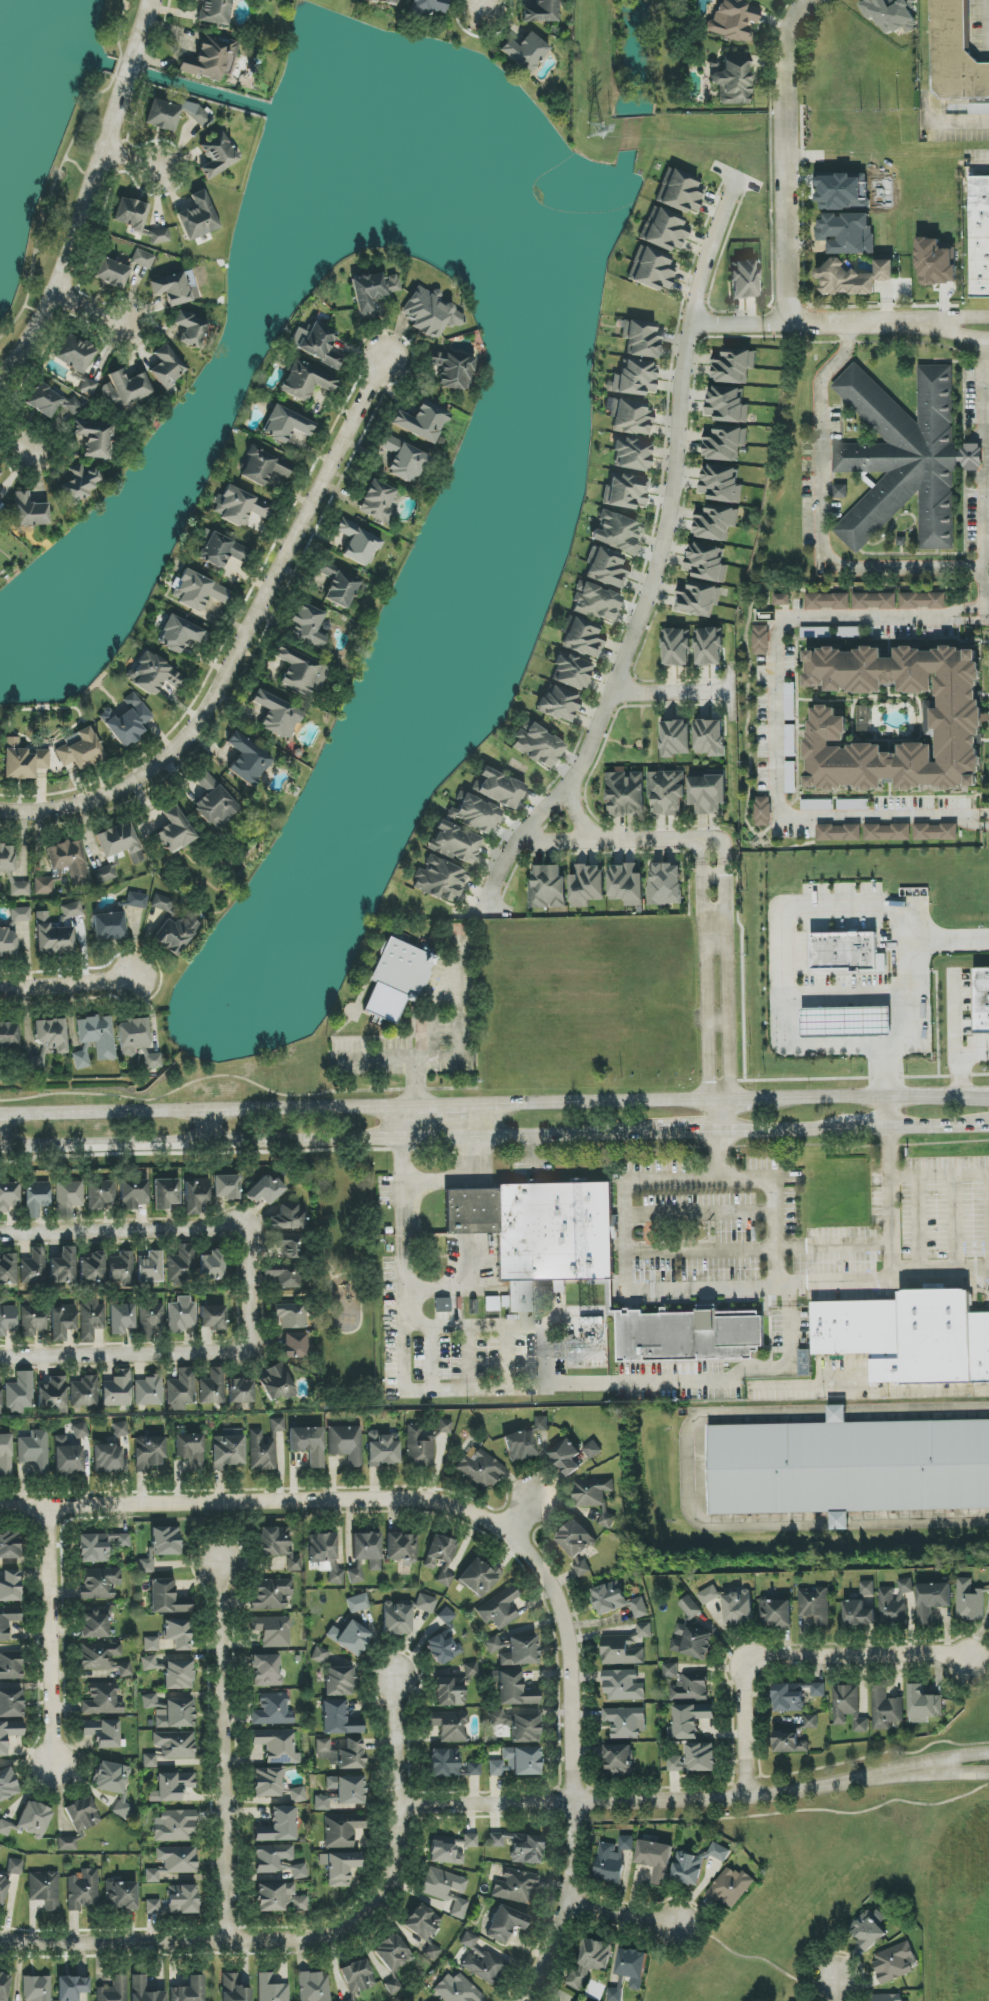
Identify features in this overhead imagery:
road: (988, 1)
building: (387, 2)
road: (484, 5)
building: (428, 7)
building: (214, 11)
building: (540, 12)
building: (890, 14)
building: (734, 20)
road: (141, 28)
building: (525, 52)
building: (210, 58)
building: (956, 58)
road: (128, 71)
building: (733, 79)
building: (173, 114)
road: (960, 120)
power tower: (595, 134)
building: (216, 155)
road: (789, 159)
road: (131, 161)
road: (733, 175)
building: (679, 191)
building: (842, 191)
building: (130, 213)
building: (197, 217)
building: (664, 230)
building: (847, 233)
building: (159, 236)
building: (979, 236)
road: (78, 240)
building: (142, 259)
building: (935, 262)
building: (652, 270)
building: (111, 273)
building: (853, 277)
building: (188, 279)
building: (744, 279)
building: (173, 289)
building: (372, 292)
road: (90, 306)
building: (428, 313)
road: (839, 325)
building: (190, 329)
building: (642, 339)
building: (319, 344)
building: (75, 353)
building: (733, 366)
building: (166, 367)
building: (453, 370)
building: (635, 378)
building: (305, 381)
building: (88, 387)
building: (125, 390)
building: (43, 400)
building: (727, 405)
building: (629, 417)
building: (422, 422)
building: (285, 424)
building: (94, 438)
road: (17, 441)
building: (724, 443)
building: (632, 455)
building: (904, 458)
building: (404, 459)
building: (263, 467)
road: (986, 472)
building: (79, 484)
building: (721, 484)
building: (840, 491)
building: (625, 492)
building: (0, 501)
building: (378, 503)
building: (239, 506)
building: (30, 511)
road: (821, 520)
building: (716, 522)
building: (616, 532)
building: (358, 543)
building: (224, 553)
road: (656, 562)
building: (707, 562)
building: (340, 585)
building: (198, 591)
building: (698, 598)
building: (782, 600)
building: (827, 601)
building: (874, 601)
building: (923, 601)
building: (596, 602)
road: (976, 614)
building: (307, 625)
building: (816, 632)
building: (849, 632)
building: (180, 634)
building: (583, 638)
building: (761, 640)
road: (243, 644)
building: (676, 647)
building: (708, 647)
building: (299, 671)
building: (572, 672)
building: (153, 674)
road: (671, 692)
road: (729, 693)
building: (790, 701)
building: (559, 703)
building: (277, 715)
building: (126, 721)
road: (775, 725)
building: (957, 727)
building: (709, 737)
building: (674, 738)
building: (790, 740)
building: (539, 746)
building: (79, 751)
building: (23, 760)
building: (247, 760)
building: (791, 777)
building: (500, 789)
building: (666, 792)
building: (626, 794)
building: (707, 794)
building: (213, 801)
building: (817, 805)
building: (853, 805)
building: (763, 811)
building: (474, 814)
road: (576, 817)
road: (984, 818)
building: (174, 831)
building: (887, 832)
building: (936, 832)
building: (839, 833)
building: (119, 842)
road: (614, 842)
building: (455, 843)
building: (6, 858)
building: (69, 861)
building: (104, 874)
road: (711, 876)
building: (440, 879)
building: (626, 884)
building: (665, 884)
building: (587, 885)
building: (43, 886)
building: (547, 887)
building: (19, 889)
building: (136, 900)
building: (163, 903)
building: (71, 910)
building: (20, 914)
road: (480, 914)
building: (62, 923)
building: (109, 926)
road: (712, 927)
building: (176, 934)
road: (786, 935)
building: (52, 937)
building: (8, 943)
building: (847, 952)
road: (724, 968)
road: (701, 969)
building: (397, 979)
road: (65, 984)
road: (849, 995)
building: (981, 1001)
road: (908, 1007)
road: (714, 1019)
building: (845, 1023)
building: (8, 1035)
building: (51, 1035)
building: (97, 1036)
building: (132, 1036)
road: (455, 1054)
road: (956, 1055)
road: (377, 1057)
building: (80, 1060)
building: (151, 1060)
building: (33, 1063)
road: (872, 1096)
road: (737, 1099)
road: (591, 1103)
road: (440, 1107)
road: (887, 1112)
road: (208, 1113)
road: (717, 1115)
road: (498, 1121)
road: (416, 1123)
road: (939, 1127)
road: (207, 1128)
road: (860, 1128)
road: (775, 1129)
road: (687, 1131)
road: (19, 1133)
road: (328, 1140)
road: (717, 1153)
road: (395, 1154)
road: (939, 1175)
road: (450, 1176)
building: (264, 1190)
building: (165, 1193)
building: (132, 1194)
building: (100, 1195)
building: (195, 1195)
building: (9, 1197)
building: (35, 1198)
building: (68, 1198)
road: (700, 1215)
building: (287, 1218)
road: (919, 1223)
road: (956, 1223)
road: (100, 1229)
building: (540, 1229)
road: (834, 1246)
road: (891, 1246)
building: (285, 1247)
road: (701, 1251)
building: (181, 1264)
building: (211, 1265)
building: (62, 1266)
building: (33, 1267)
building: (150, 1267)
building: (91, 1268)
building: (121, 1268)
building: (7, 1269)
road: (400, 1275)
building: (284, 1277)
road: (841, 1282)
road: (456, 1286)
road: (684, 1290)
road: (243, 1291)
building: (491, 1304)
building: (442, 1305)
building: (180, 1315)
building: (291, 1315)
building: (212, 1318)
building: (91, 1319)
building: (121, 1319)
building: (149, 1319)
building: (8, 1320)
building: (33, 1320)
building: (61, 1321)
road: (503, 1327)
building: (690, 1337)
building: (909, 1338)
building: (294, 1345)
road: (100, 1351)
building: (805, 1363)
building: (276, 1383)
road: (635, 1385)
building: (212, 1387)
building: (117, 1390)
building: (181, 1390)
road: (908, 1390)
building: (148, 1391)
building: (240, 1391)
building: (84, 1392)
building: (20, 1393)
building: (52, 1395)
building: (0, 1398)
road: (917, 1412)
road: (837, 1413)
building: (276, 1425)
building: (120, 1429)
building: (80, 1431)
building: (308, 1444)
building: (345, 1444)
building: (227, 1449)
building: (382, 1449)
building: (190, 1450)
building: (592, 1450)
building: (34, 1451)
building: (149, 1451)
building: (261, 1451)
building: (5, 1454)
building: (67, 1457)
building: (566, 1457)
building: (107, 1458)
building: (479, 1468)
building: (848, 1468)
road: (688, 1472)
building: (592, 1492)
road: (523, 1515)
road: (918, 1521)
road: (839, 1523)
road: (504, 1526)
building: (164, 1541)
building: (273, 1542)
building: (9, 1544)
building: (577, 1545)
building: (100, 1546)
building: (401, 1548)
building: (367, 1549)
building: (442, 1549)
building: (325, 1554)
building: (294, 1563)
building: (145, 1566)
building: (355, 1573)
building: (475, 1577)
building: (444, 1579)
building: (99, 1583)
building: (10, 1586)
building: (867, 1588)
building: (271, 1594)
building: (166, 1598)
building: (618, 1600)
building: (933, 1602)
building: (970, 1602)
building: (357, 1603)
building: (425, 1603)
building: (731, 1604)
building: (895, 1604)
building: (816, 1605)
building: (499, 1609)
building: (774, 1611)
building: (858, 1612)
building: (446, 1616)
building: (396, 1619)
building: (8, 1620)
building: (95, 1622)
building: (272, 1631)
building: (177, 1633)
building: (693, 1633)
road: (53, 1635)
building: (349, 1637)
building: (150, 1644)
building: (492, 1644)
building: (626, 1647)
building: (442, 1648)
building: (520, 1652)
building: (319, 1655)
building: (98, 1656)
road: (791, 1658)
building: (148, 1663)
building: (10, 1665)
building: (123, 1669)
building: (670, 1670)
building: (266, 1671)
building: (178, 1675)
building: (339, 1681)
building: (621, 1683)
building: (454, 1687)
building: (691, 1687)
building: (514, 1690)
building: (793, 1694)
building: (101, 1699)
building: (923, 1700)
building: (149, 1701)
building: (10, 1702)
building: (848, 1707)
building: (886, 1707)
building: (272, 1710)
building: (175, 1714)
building: (496, 1718)
building: (338, 1719)
building: (689, 1720)
building: (625, 1721)
building: (449, 1726)
building: (524, 1728)
building: (102, 1732)
building: (9, 1734)
building: (792, 1736)
building: (175, 1744)
road: (223, 1746)
building: (277, 1746)
building: (342, 1753)
building: (692, 1758)
road: (960, 1760)
building: (149, 1761)
building: (620, 1761)
building: (516, 1762)
building: (444, 1763)
building: (471, 1769)
road: (959, 1775)
building: (110, 1778)
building: (273, 1786)
building: (171, 1787)
building: (347, 1789)
road: (666, 1799)
building: (321, 1803)
building: (82, 1816)
building: (34, 1819)
building: (175, 1826)
building: (278, 1826)
building: (5, 1828)
building: (341, 1830)
building: (626, 1843)
building: (66, 1844)
building: (519, 1846)
building: (450, 1848)
building: (719, 1852)
building: (277, 1860)
building: (655, 1860)
building: (172, 1862)
building: (609, 1864)
building: (14, 1867)
building: (339, 1867)
building: (688, 1868)
building: (515, 1886)
building: (730, 1887)
building: (3, 1888)
building: (44, 1889)
building: (82, 1890)
building: (446, 1890)
building: (121, 1895)
building: (279, 1898)
building: (175, 1901)
road: (632, 1908)
building: (421, 1922)
building: (505, 1924)
road: (304, 1929)
building: (869, 1929)
building: (468, 1940)
building: (596, 1954)
building: (392, 1959)
building: (894, 1963)
building: (483, 1965)
building: (632, 1966)
building: (577, 1977)
building: (356, 1978)
road: (836, 1981)
building: (72, 1987)
building: (313, 1987)
building: (37, 1988)
building: (233, 1989)
building: (271, 1989)
building: (456, 1989)
building: (113, 1990)
building: (144, 1990)
building: (190, 1990)
building: (887, 1997)

